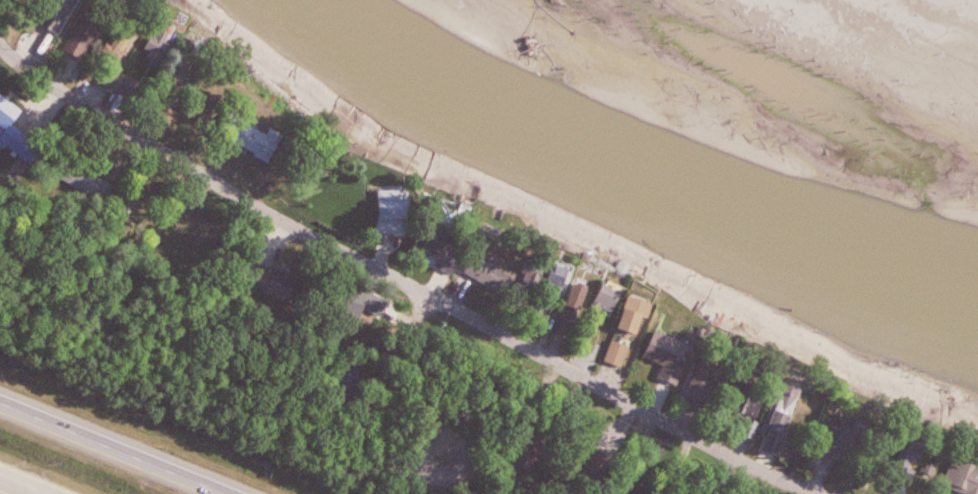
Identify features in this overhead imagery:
building: (64, 18)
building: (91, 33)
building: (126, 39)
building: (161, 46)
building: (10, 111)
building: (257, 134)
river: (632, 170)
building: (92, 183)
building: (153, 216)
building: (451, 249)
building: (511, 260)
building: (540, 265)
building: (566, 272)
road: (400, 280)
building: (279, 282)
building: (614, 299)
building: (577, 309)
building: (641, 314)
building: (621, 352)
building: (676, 355)
road: (423, 376)
building: (717, 376)
building: (755, 393)
building: (789, 411)
road: (116, 446)
building: (916, 455)
building: (965, 475)
road: (24, 483)

